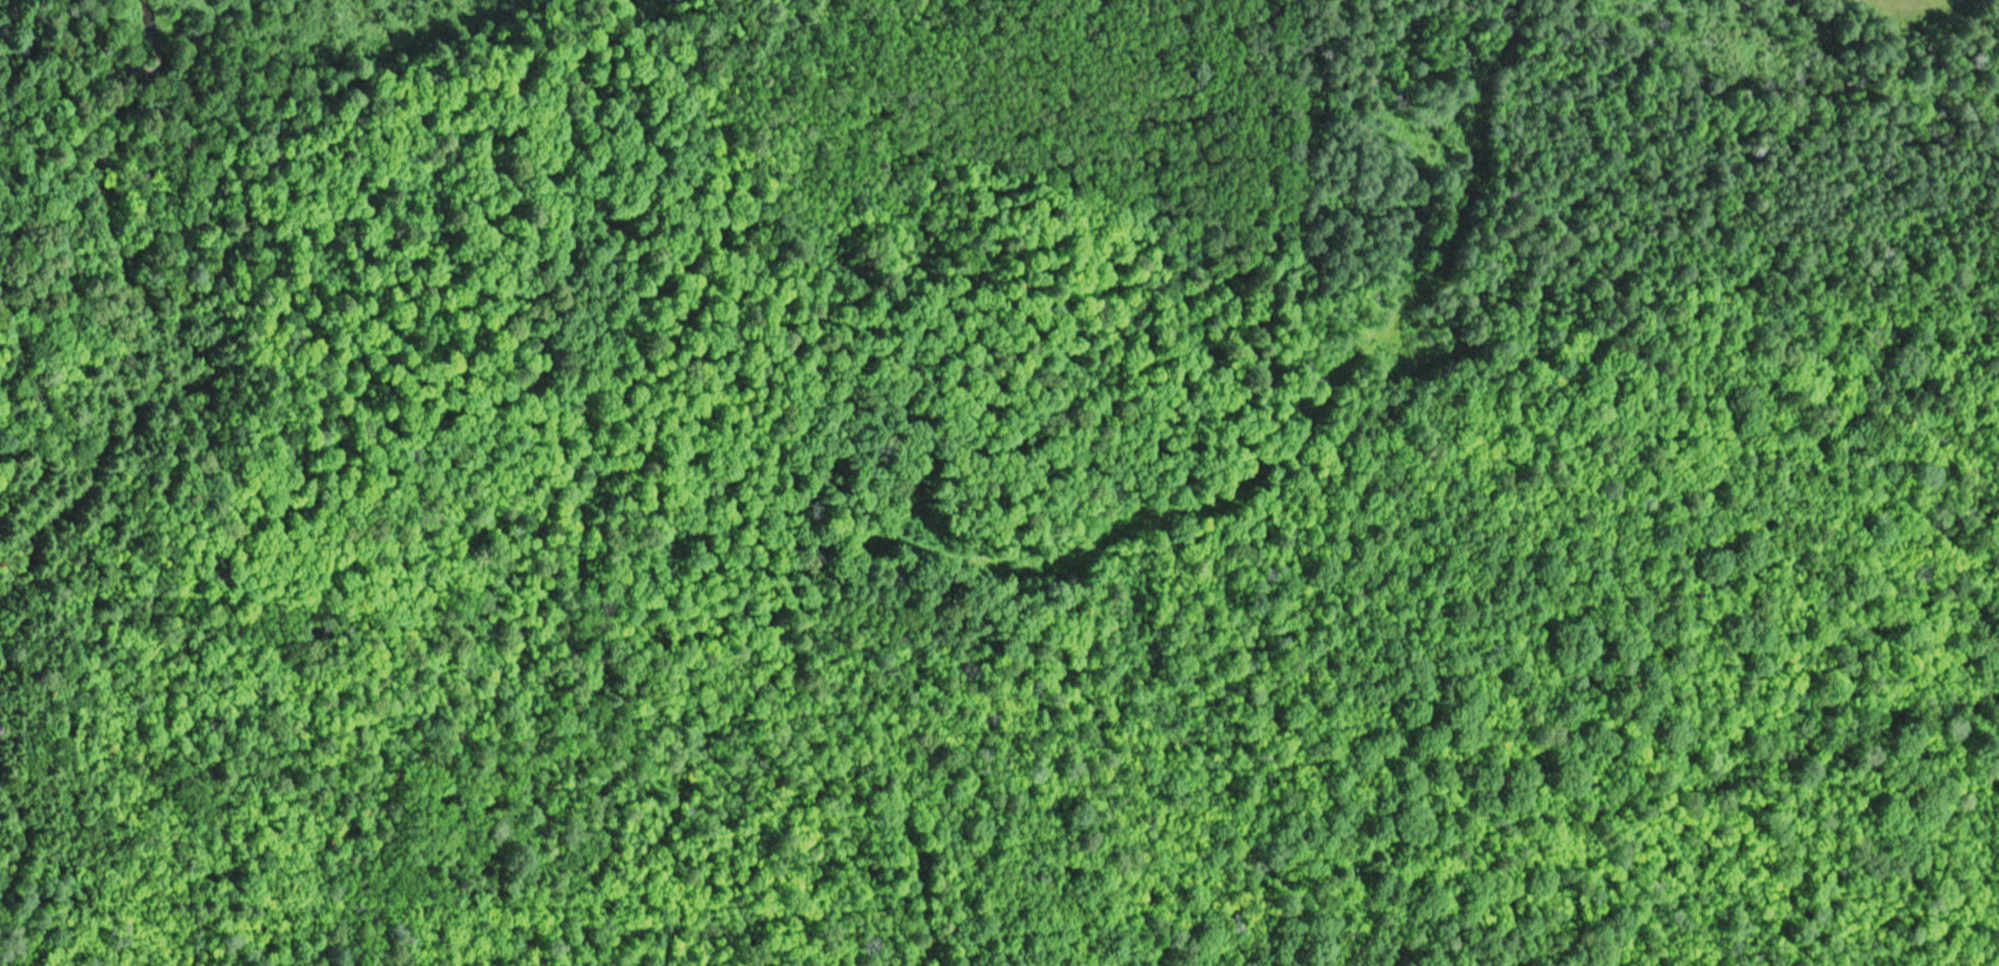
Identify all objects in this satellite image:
road: (1934, 7)

